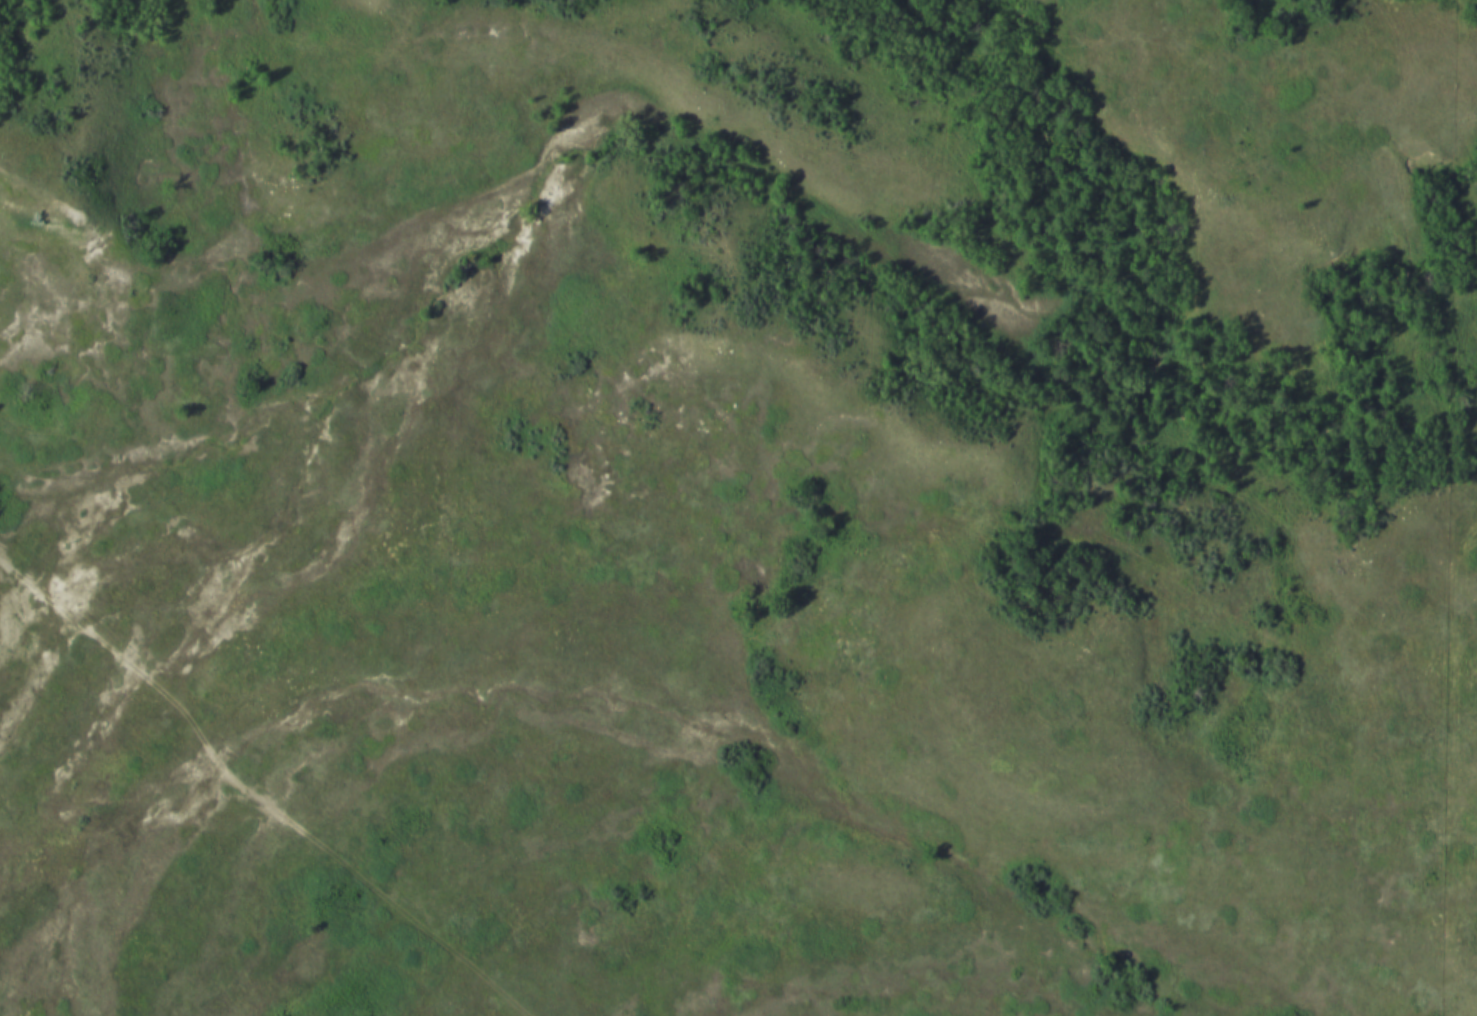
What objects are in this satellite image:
road: (252, 796)

